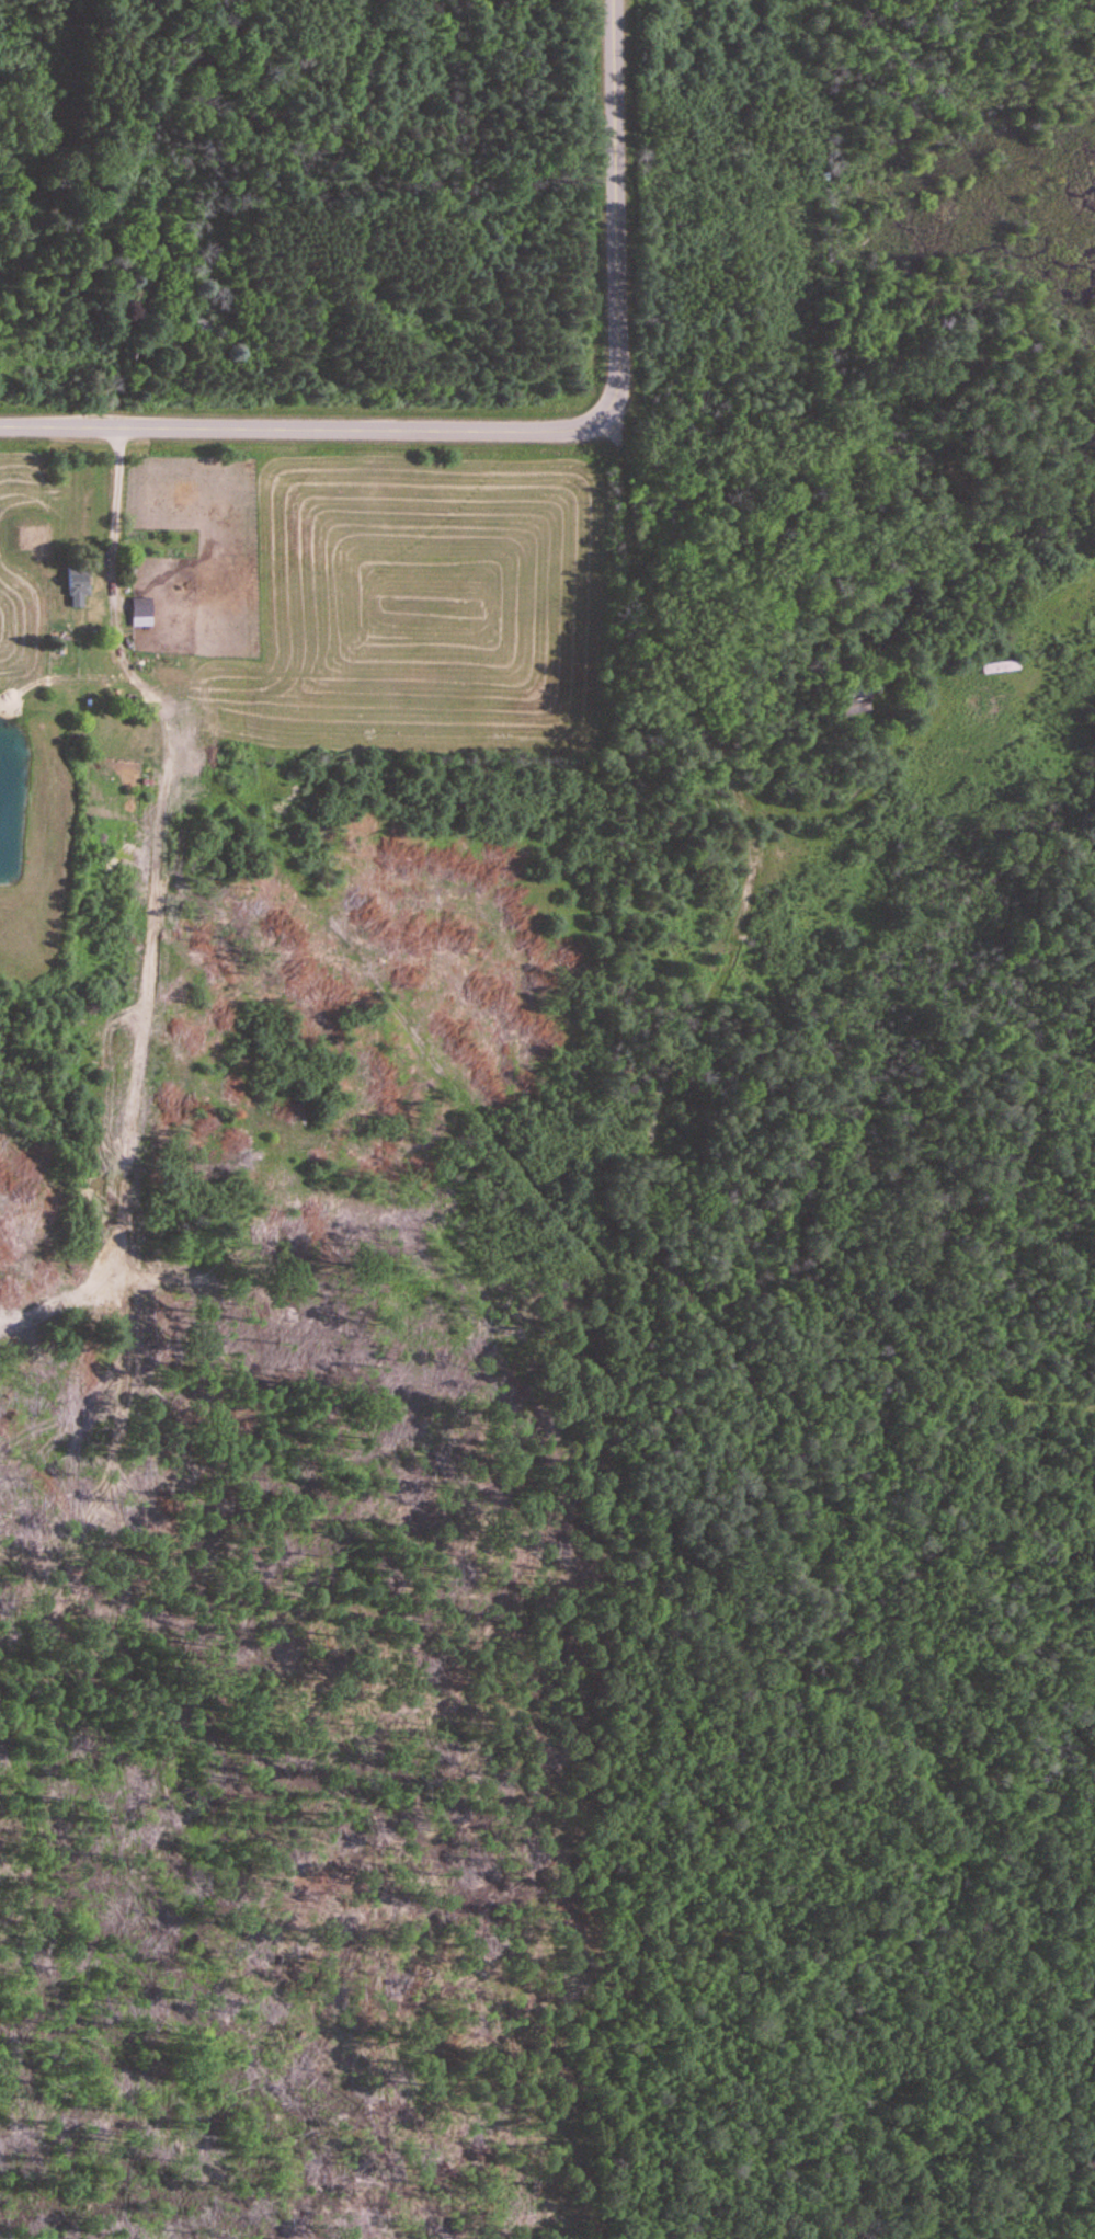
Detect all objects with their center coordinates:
road: (612, 190)
building: (129, 248)
building: (202, 327)
road: (614, 403)
road: (307, 425)
road: (111, 506)
building: (77, 585)
building: (140, 613)
building: (857, 697)
building: (760, 865)

